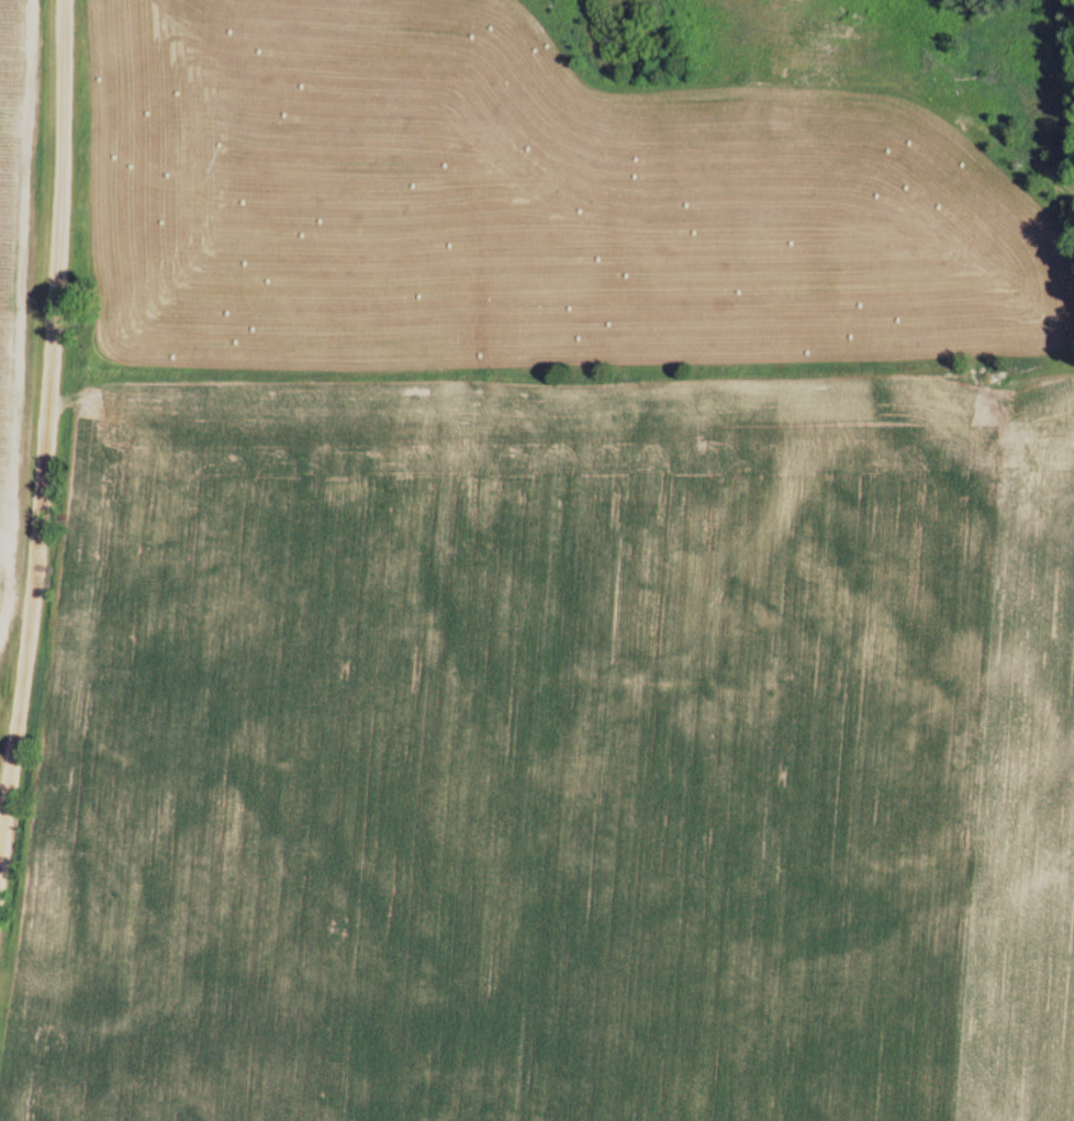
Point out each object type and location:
road: (45, 384)
crop: (502, 754)

